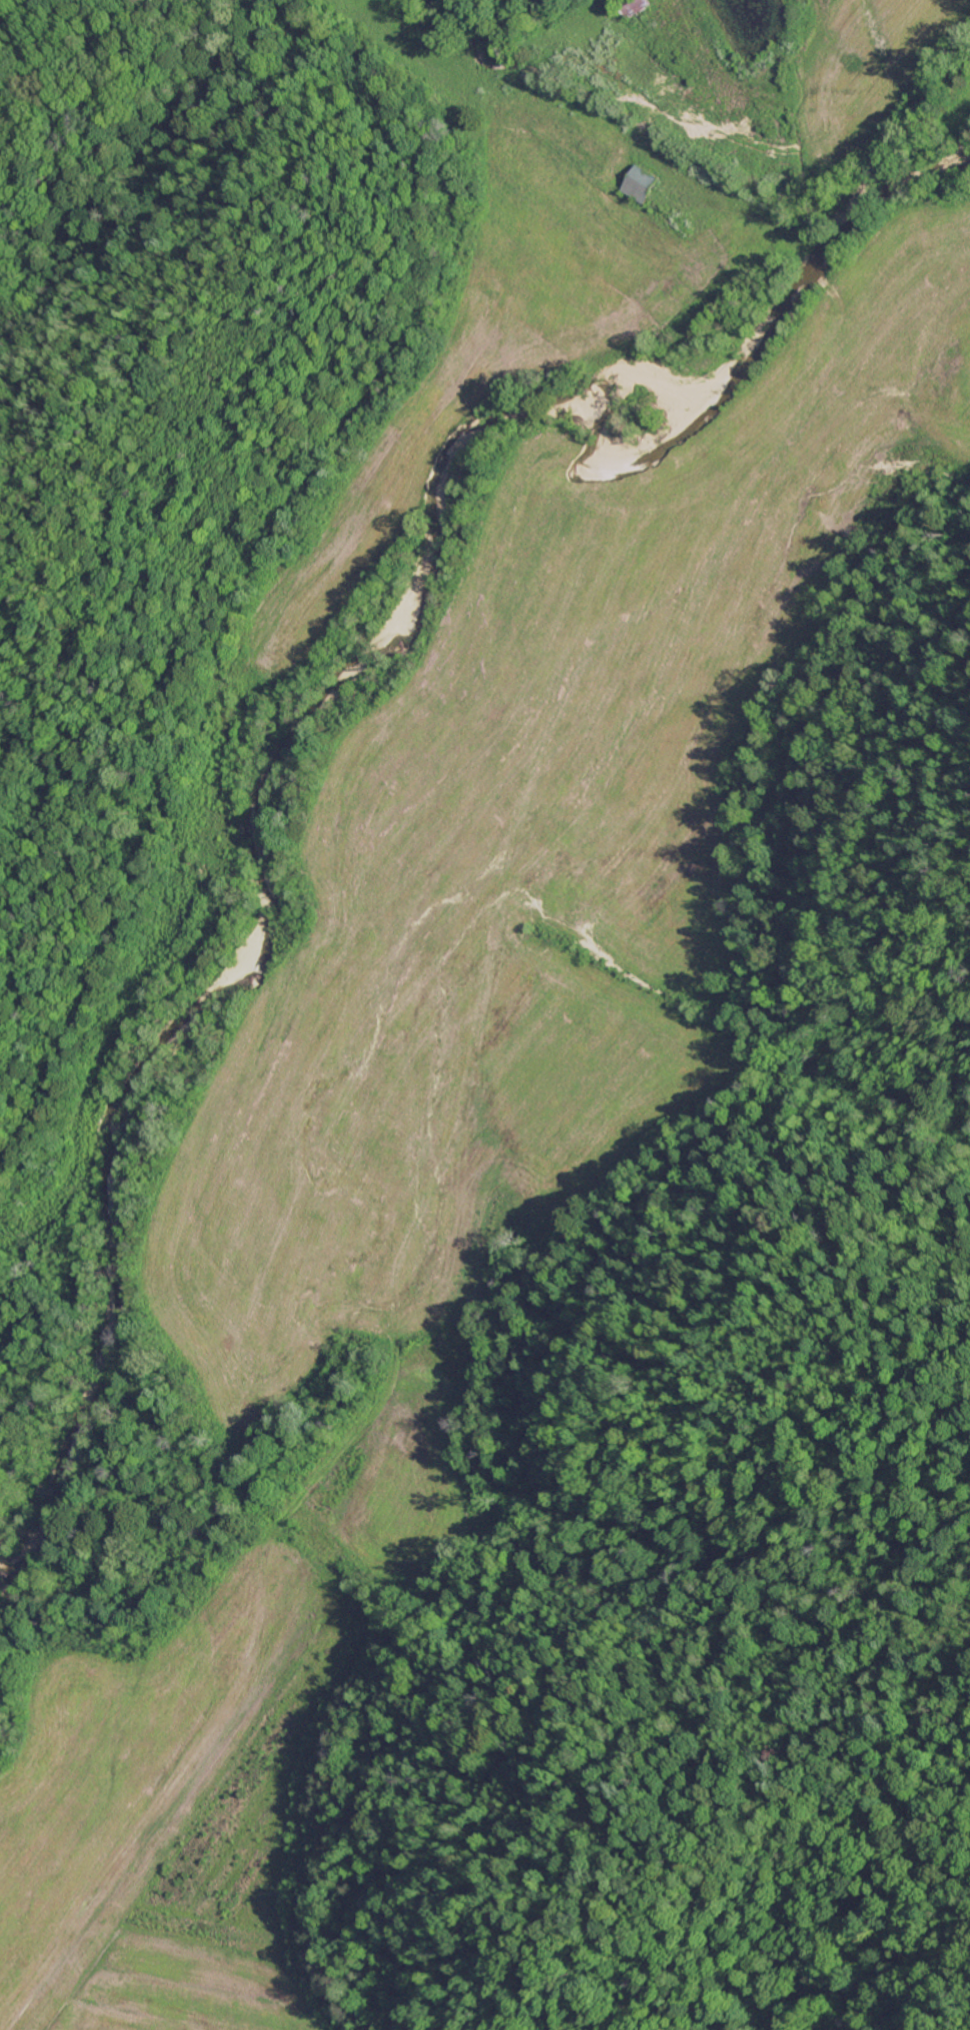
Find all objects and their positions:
road: (507, 23)
road: (303, 598)

